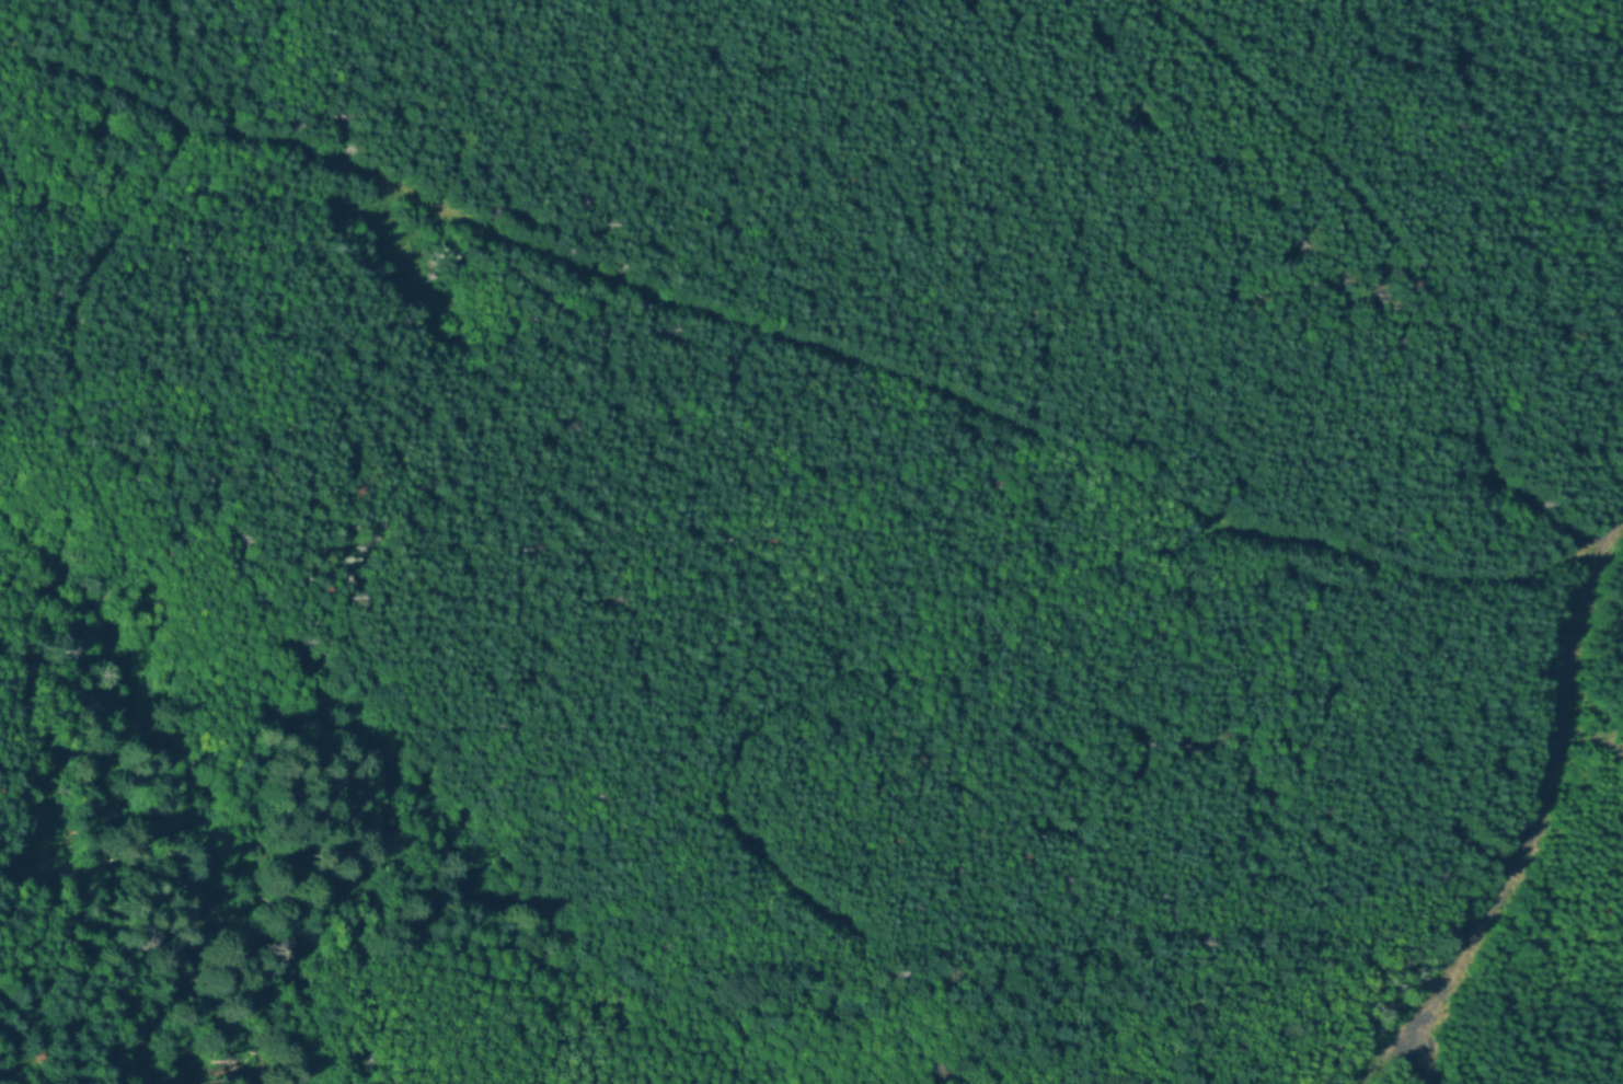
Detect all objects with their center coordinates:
road: (1622, 7)
road: (1412, 265)
road: (644, 287)
road: (72, 332)
road: (1033, 591)
road: (1539, 809)
road: (1391, 1053)

